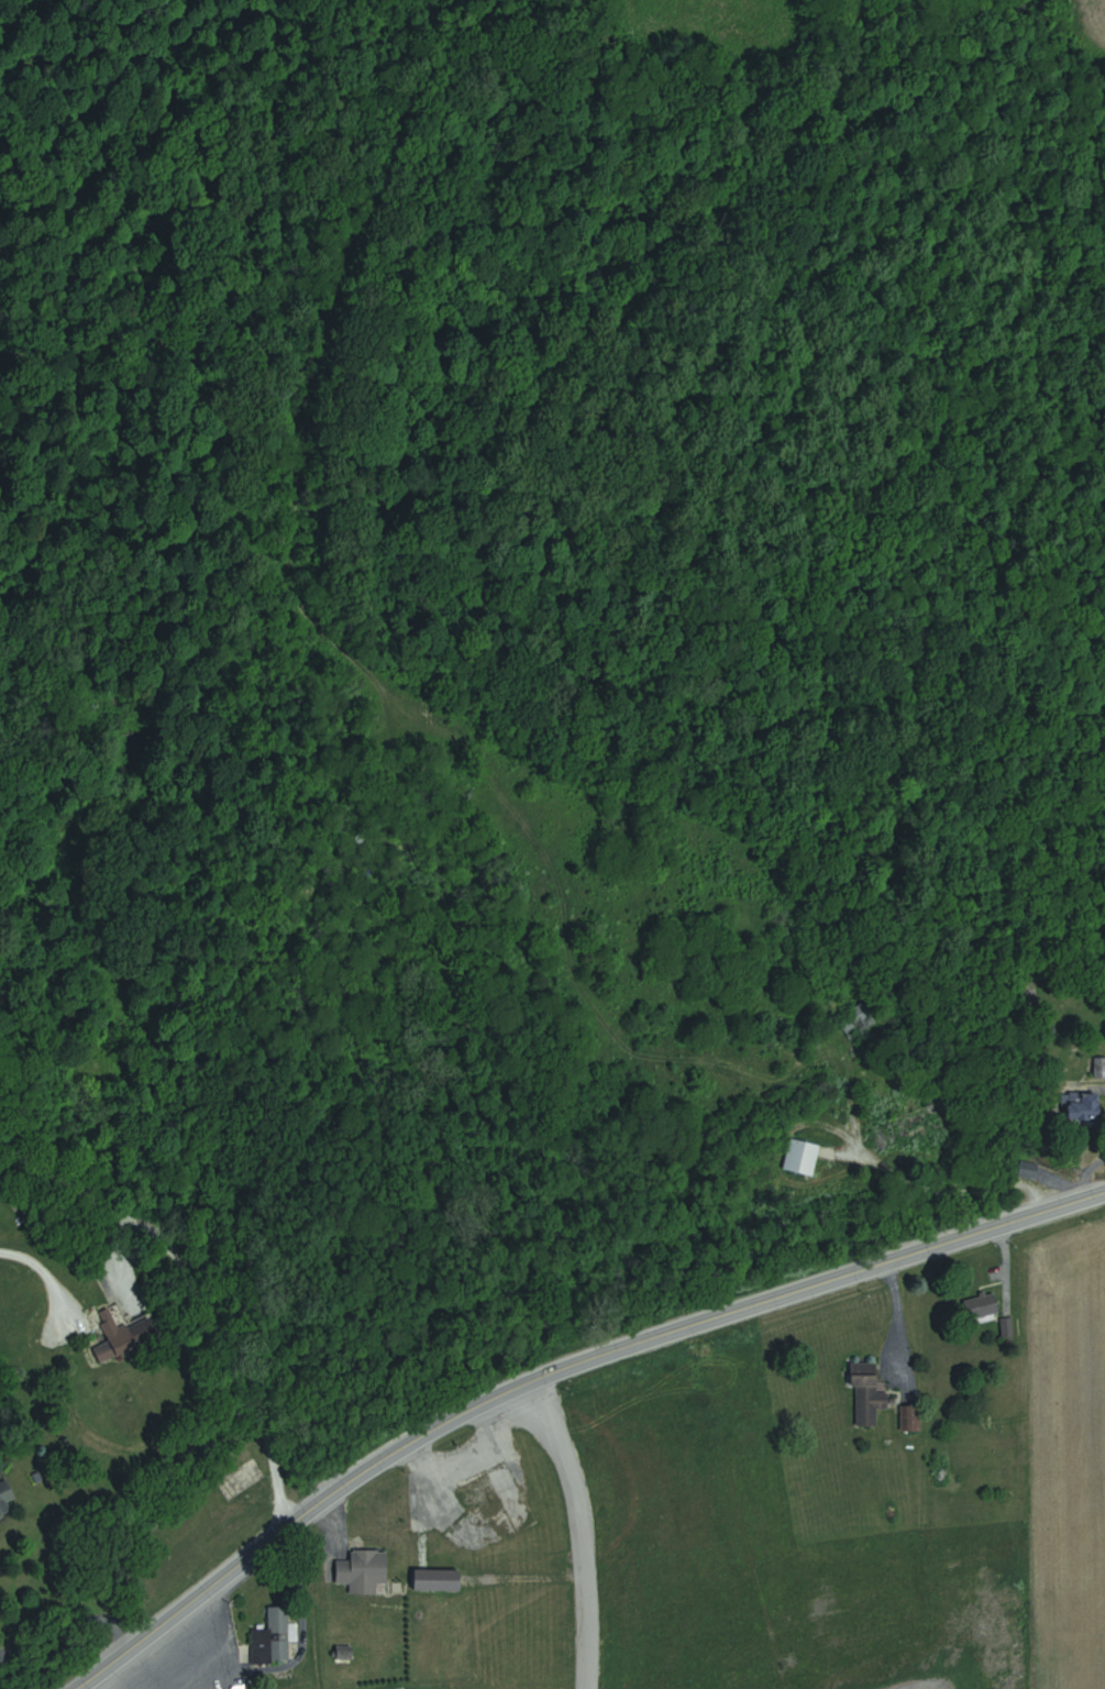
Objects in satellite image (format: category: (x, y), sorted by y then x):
building: (857, 1020)
building: (1101, 1068)
road: (1073, 1119)
building: (920, 1126)
road: (926, 1170)
road: (88, 1262)
road: (1007, 1262)
road: (43, 1281)
building: (984, 1305)
road: (900, 1309)
building: (135, 1340)
road: (550, 1368)
building: (870, 1394)
building: (493, 1484)
building: (7, 1500)
road: (338, 1522)
road: (586, 1525)
building: (366, 1567)
road: (59, 1632)
building: (276, 1637)
road: (125, 1665)
road: (920, 1687)

